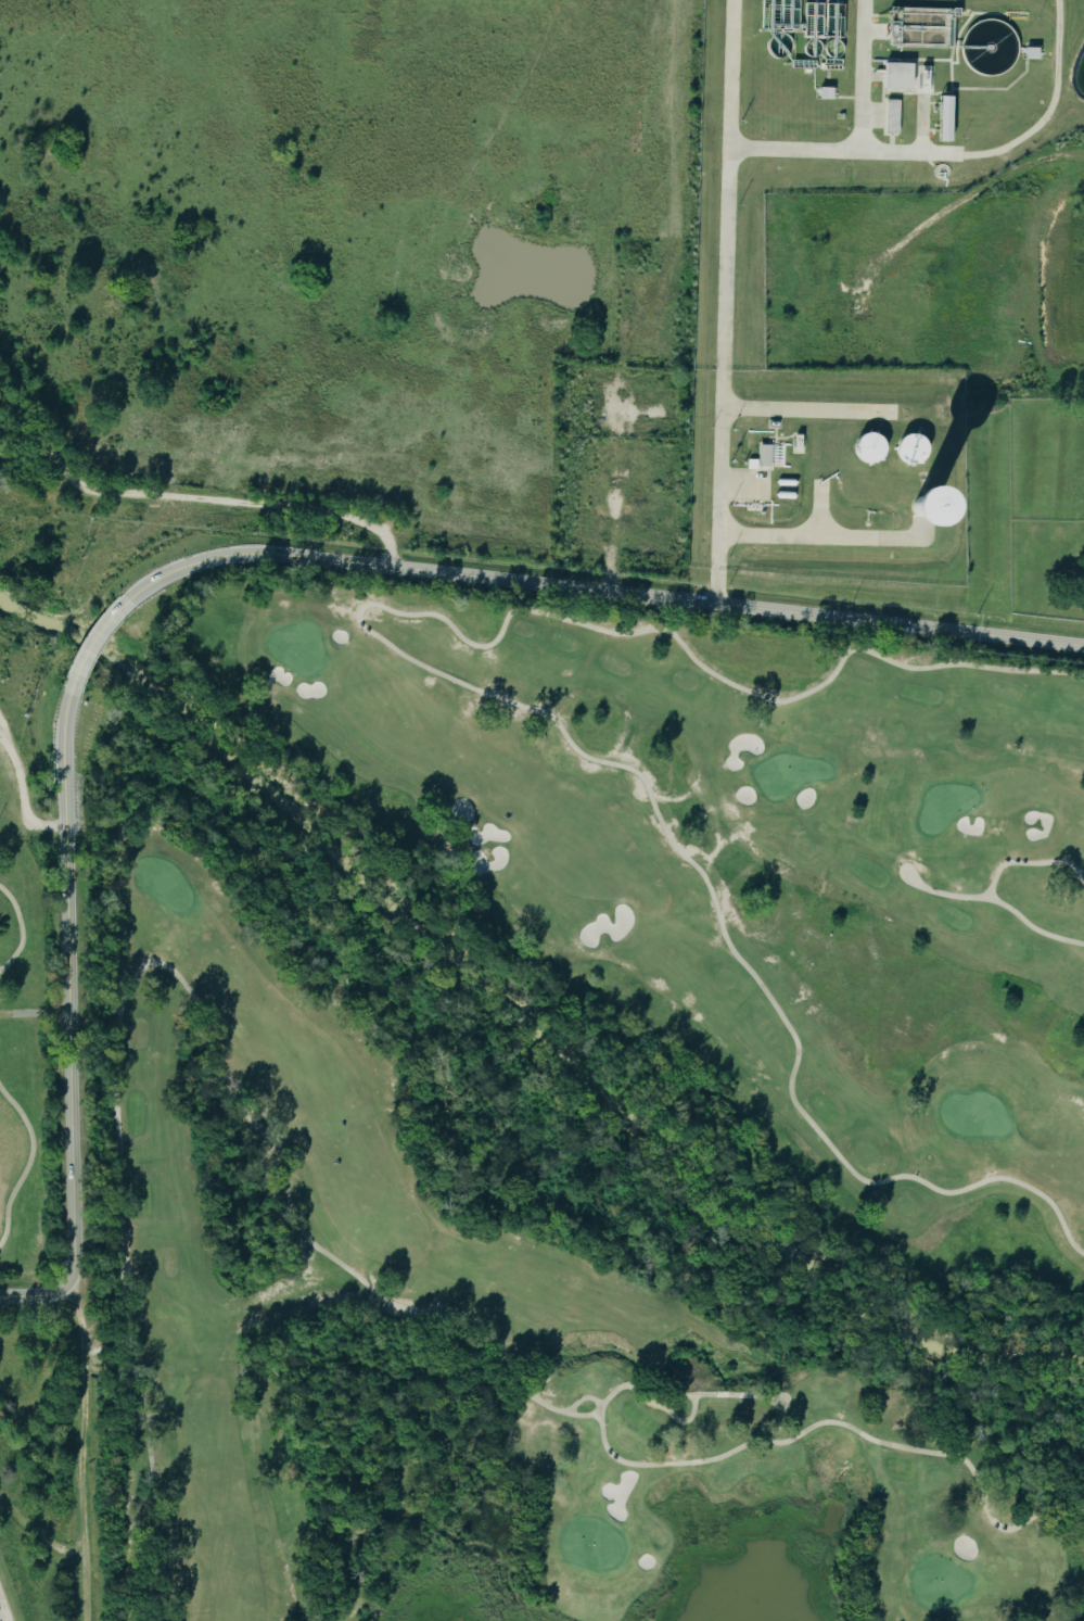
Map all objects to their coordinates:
building: (895, 75)
building: (890, 116)
building: (940, 118)
road: (1017, 141)
road: (862, 143)
road: (724, 301)
road: (789, 409)
building: (906, 447)
building: (764, 456)
road: (809, 537)
road: (596, 590)
road: (91, 642)
park: (737, 875)
road: (23, 928)
road: (1, 970)
river: (531, 1011)
road: (68, 1020)
park: (29, 1059)
road: (30, 1161)
park: (467, 1344)
road: (85, 1451)
road: (2, 1611)

